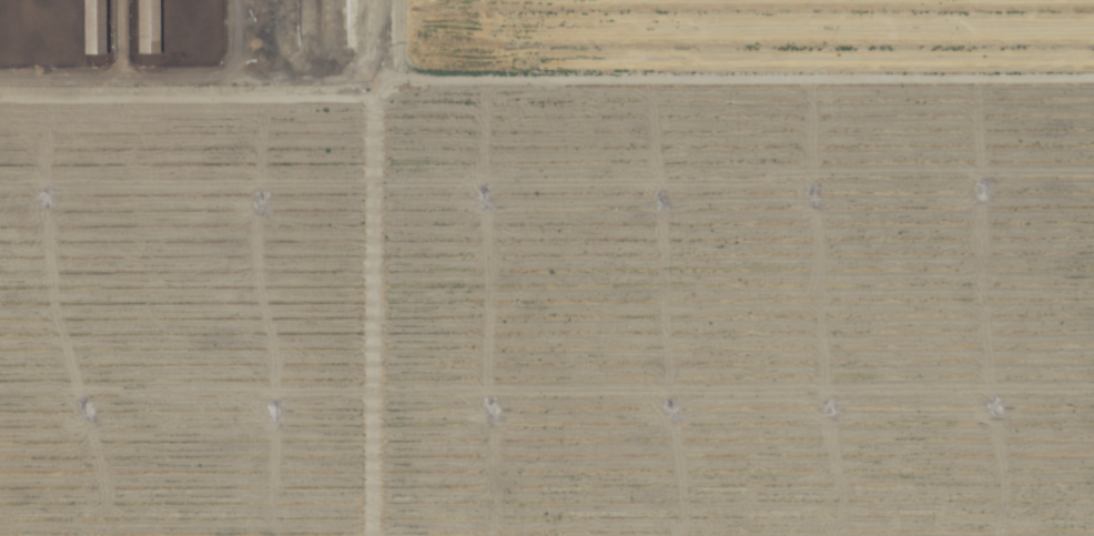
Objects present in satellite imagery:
building: (92, 27)
building: (146, 27)
crop: (571, 285)

